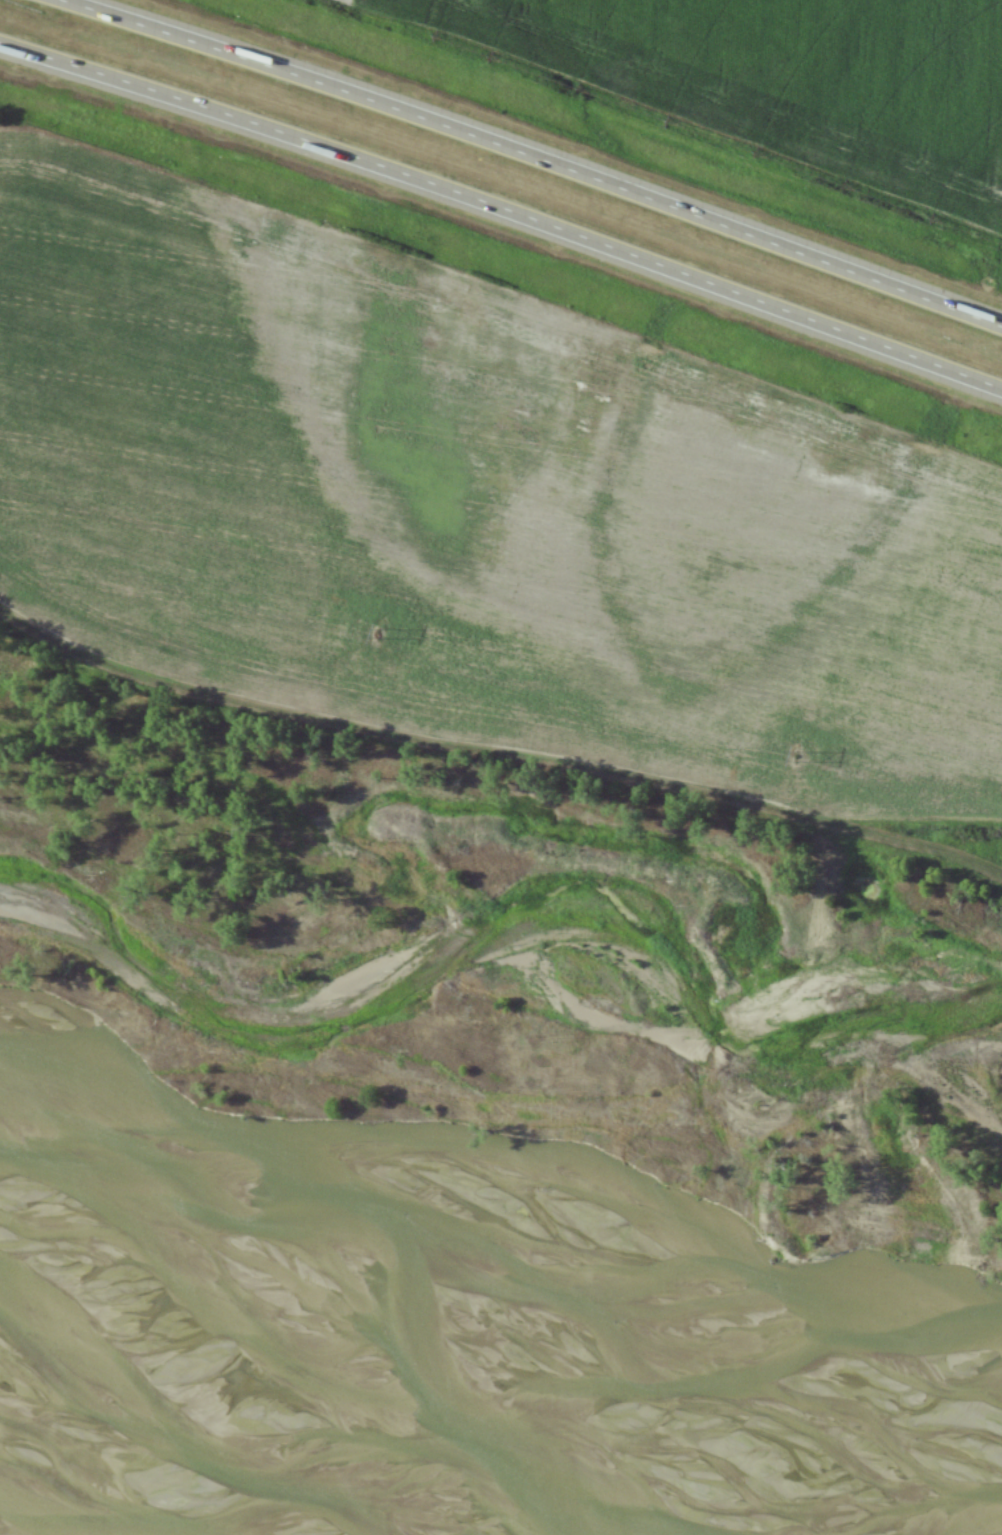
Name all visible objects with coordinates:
road: (535, 157)
road: (503, 207)
power tower: (378, 635)
power tower: (796, 757)
river: (169, 1476)

